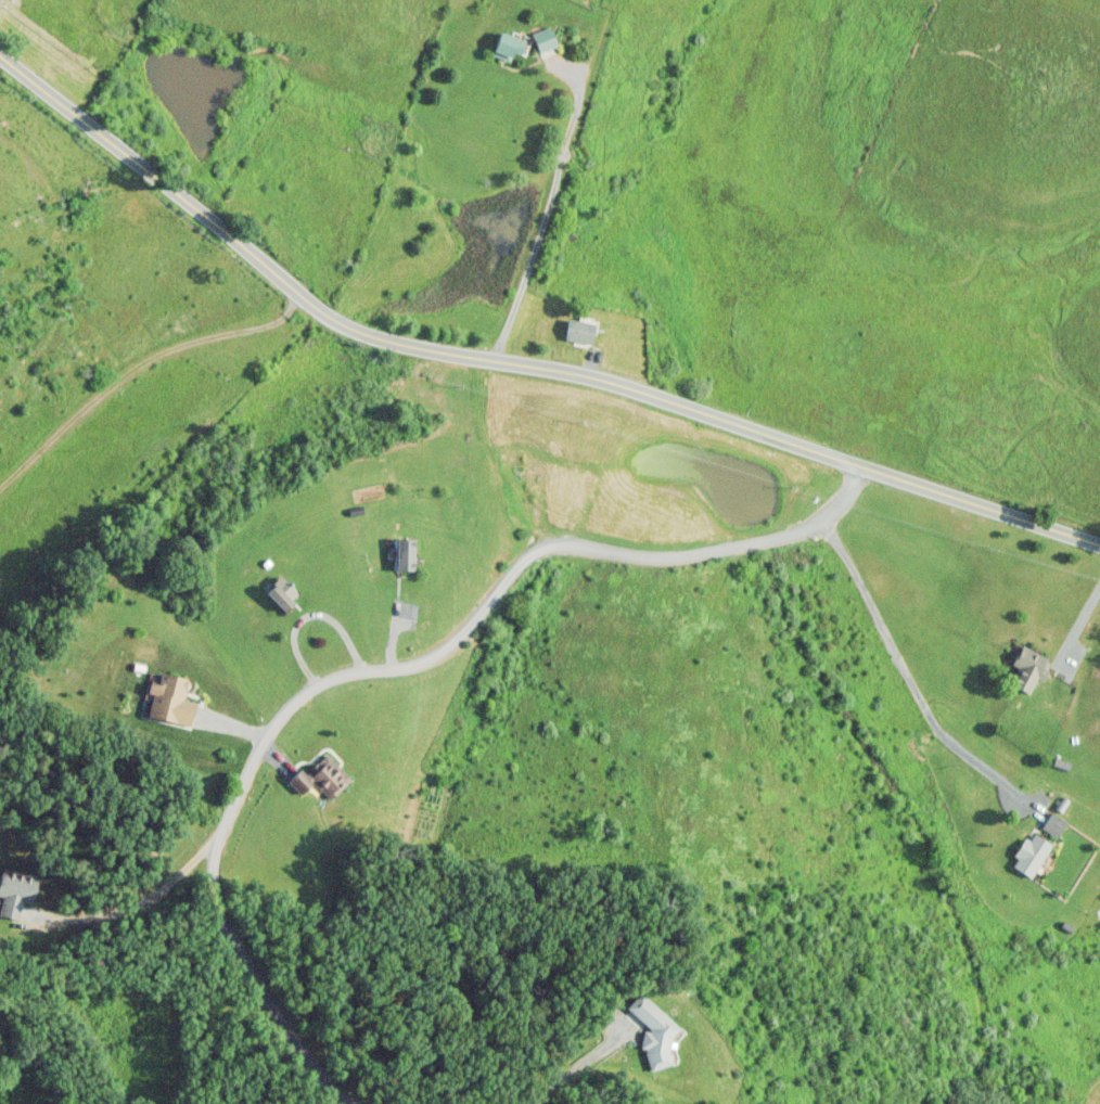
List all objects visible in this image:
building: (546, 41)
building: (511, 46)
road: (555, 180)
building: (579, 332)
road: (514, 362)
building: (404, 553)
building: (280, 598)
road: (380, 668)
building: (1028, 668)
building: (321, 776)
building: (1054, 824)
building: (1031, 853)
building: (15, 891)
building: (653, 1030)

